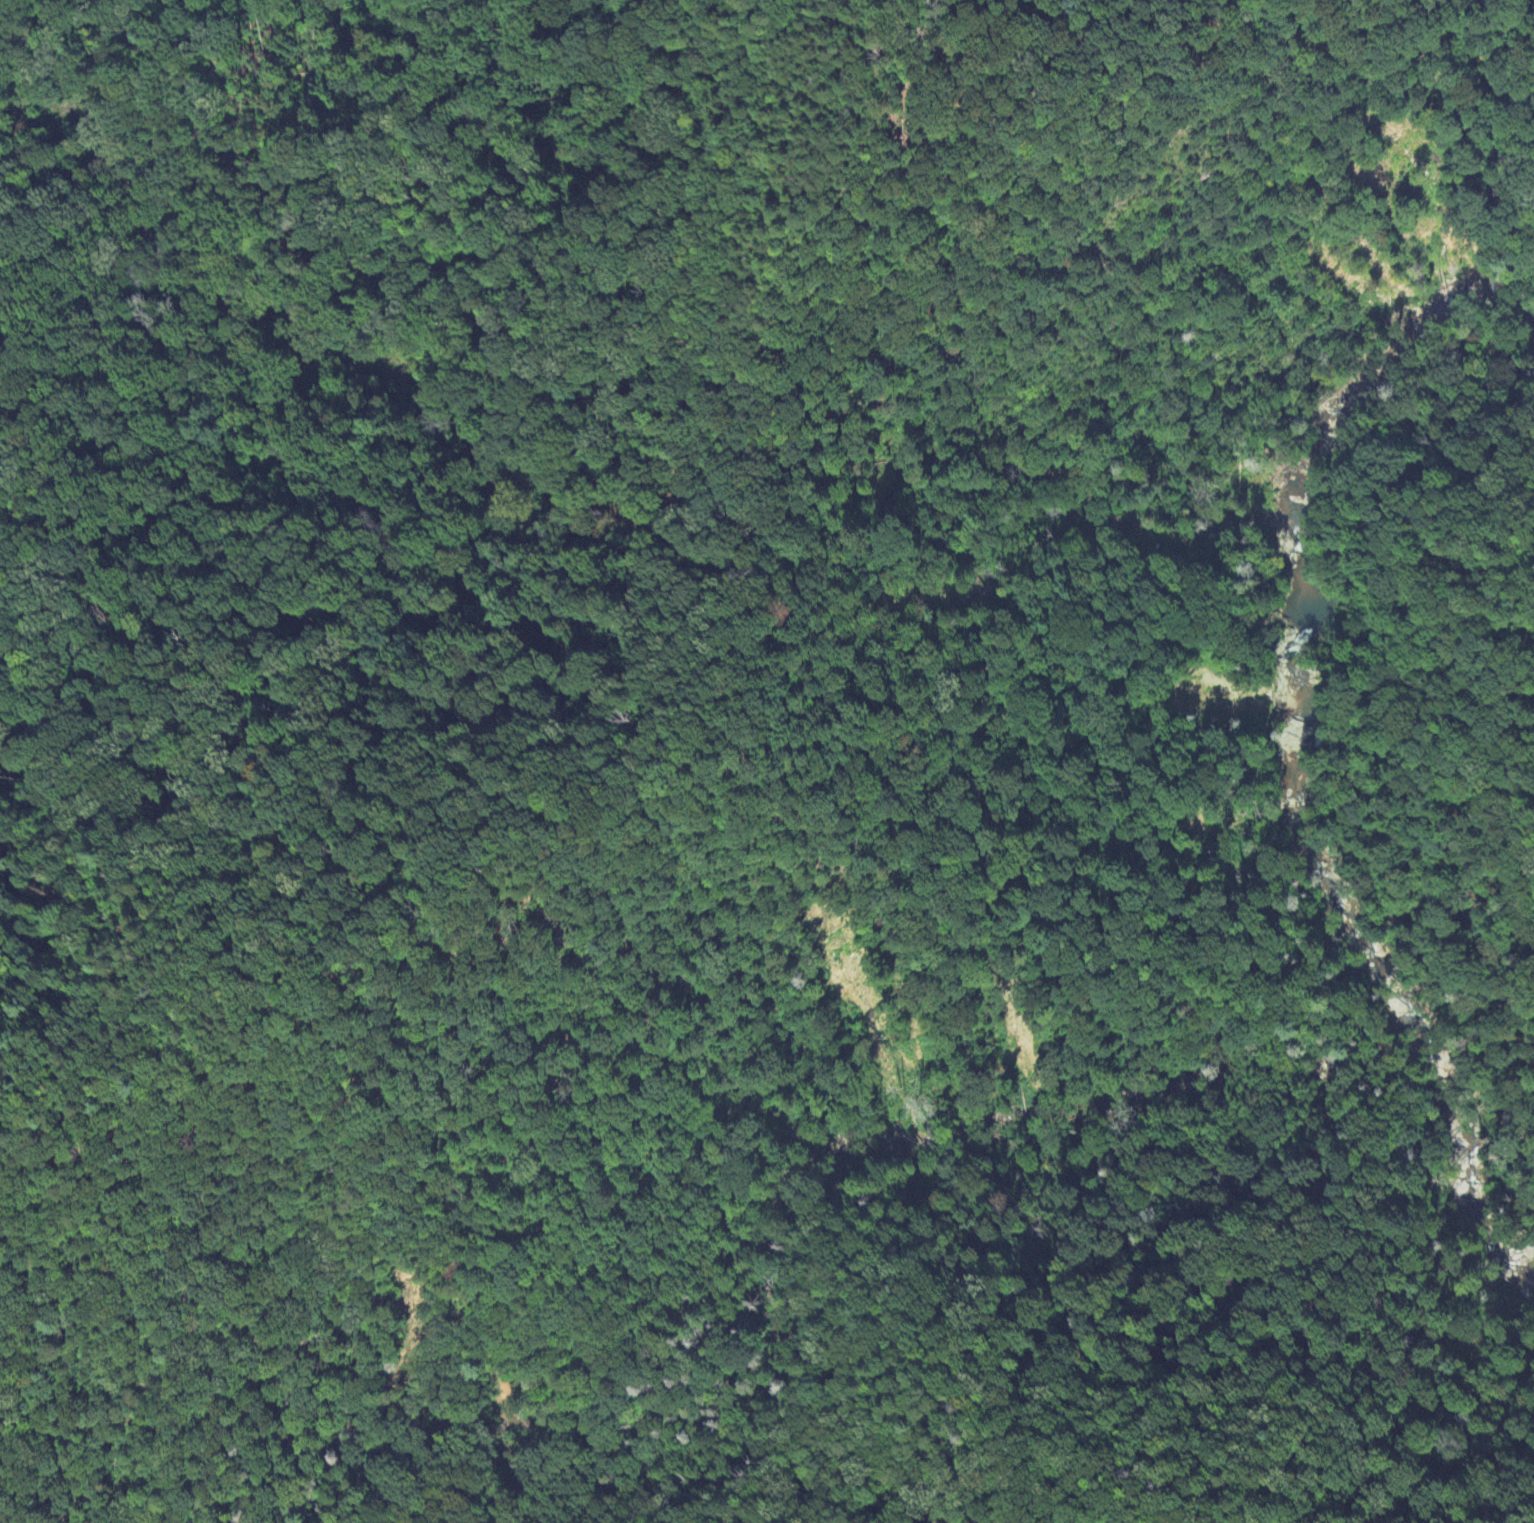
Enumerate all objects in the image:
road: (1373, 592)
road: (1476, 1072)

